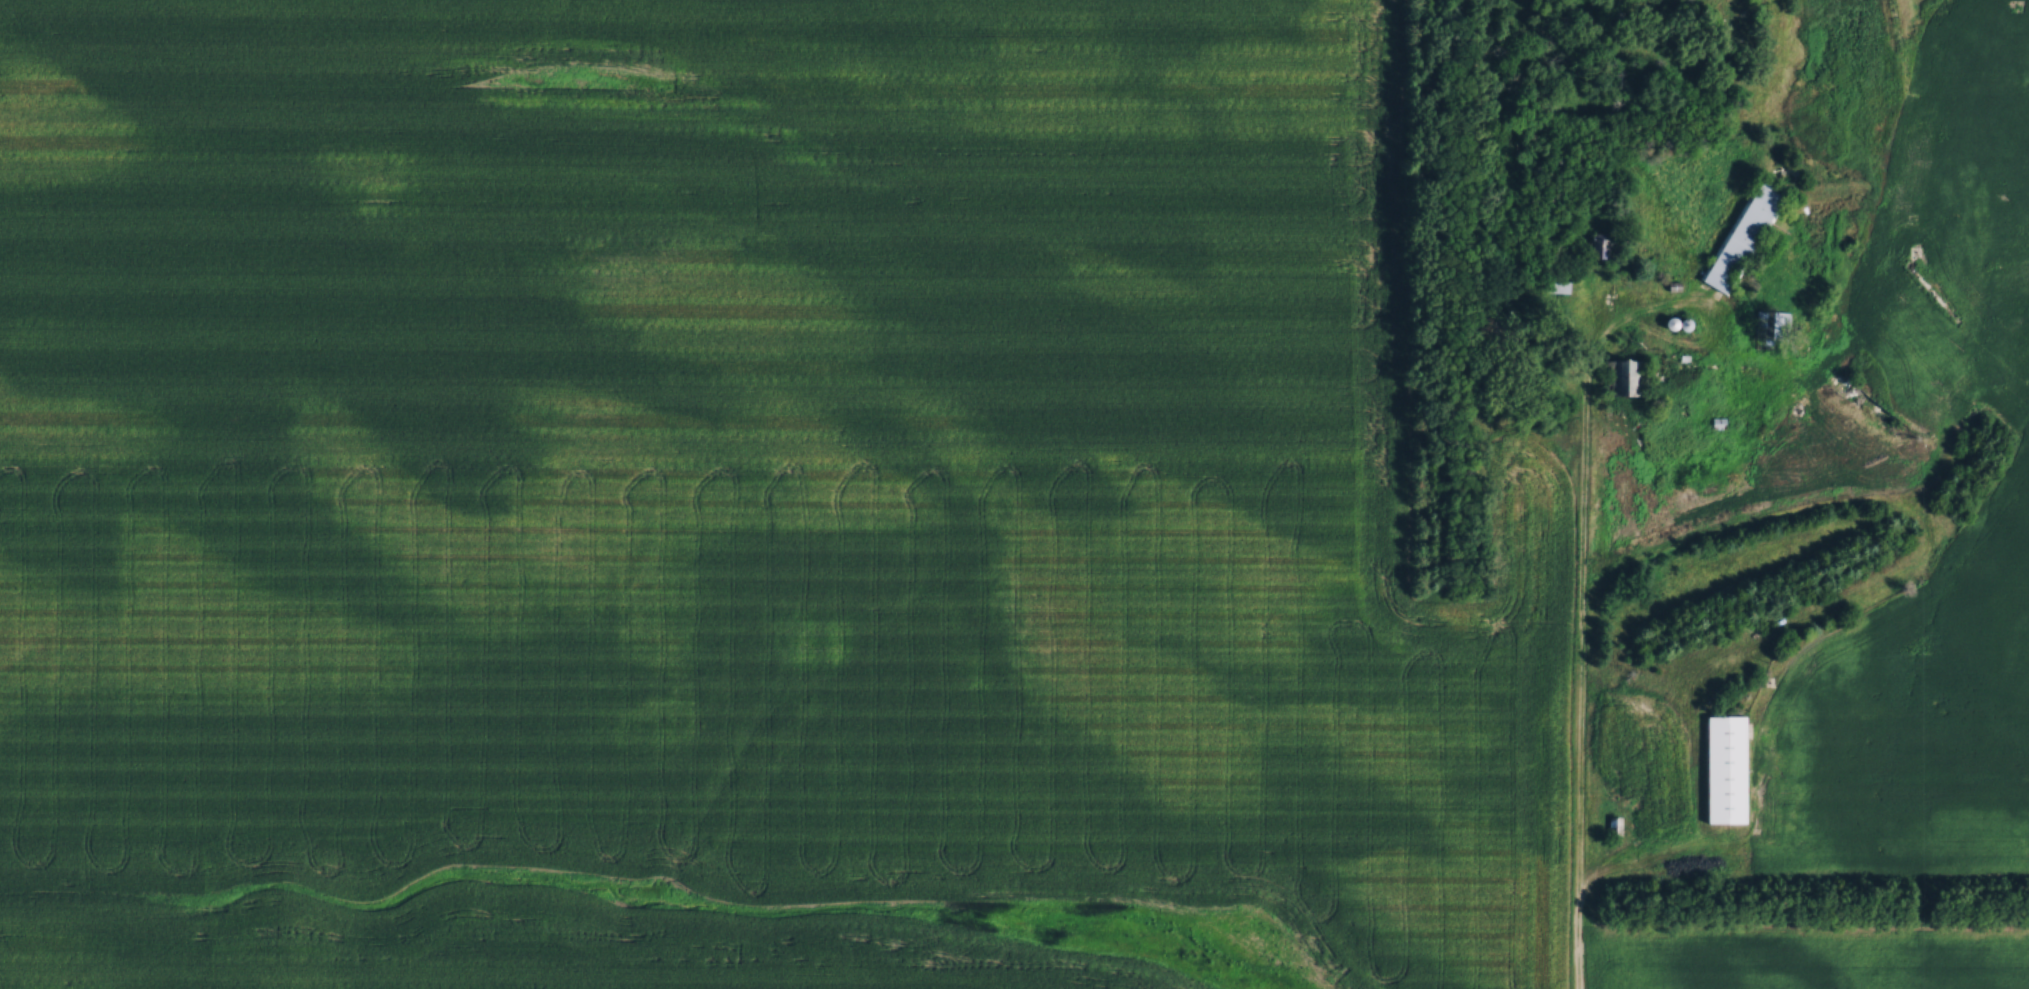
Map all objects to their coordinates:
building: (1741, 236)
building: (1606, 246)
building: (1772, 322)
building: (1626, 379)
road: (1581, 608)
building: (1726, 768)
building: (1617, 825)
road: (1609, 876)

